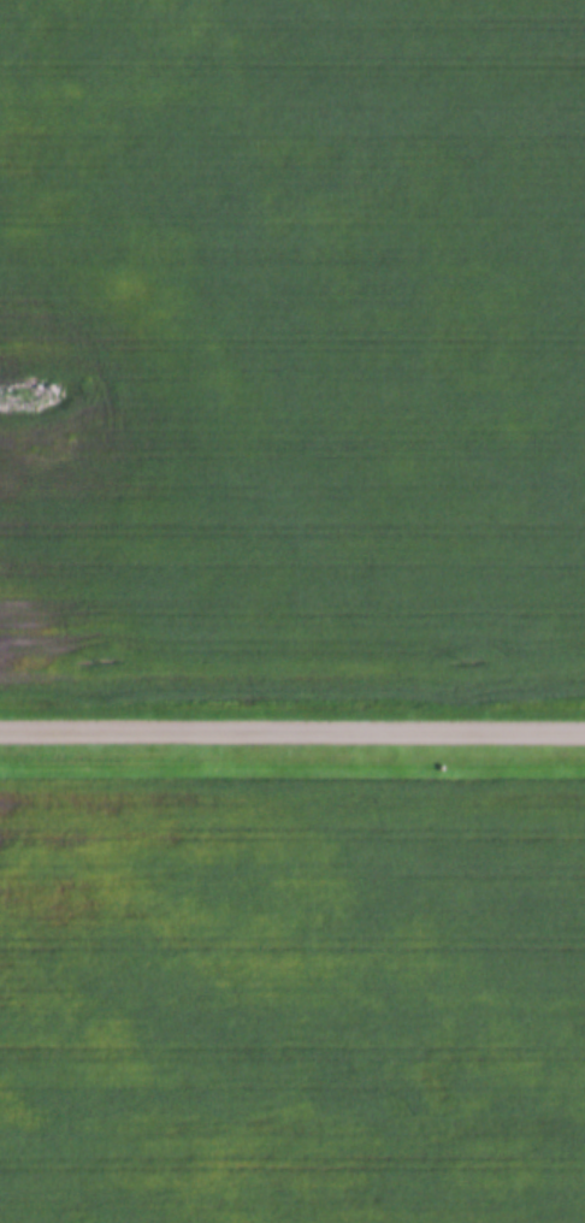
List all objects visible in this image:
road: (292, 727)

